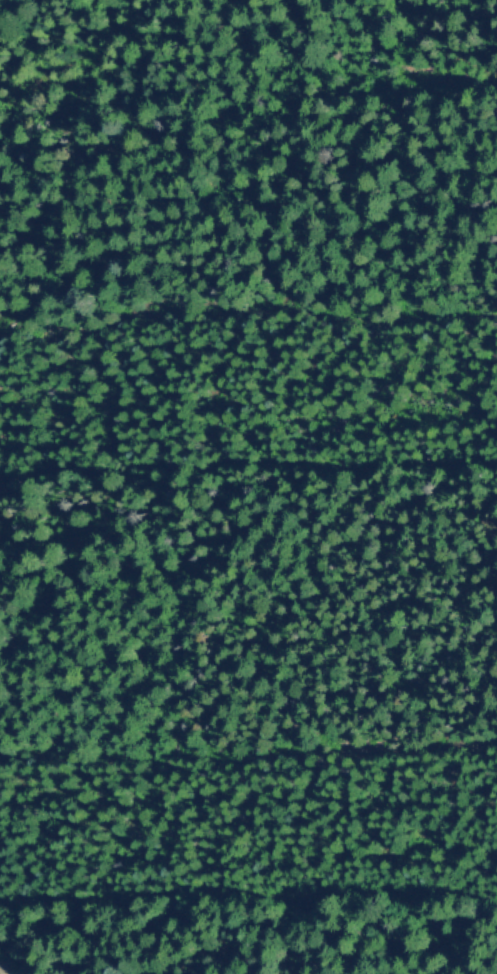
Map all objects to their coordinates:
road: (6, 968)

